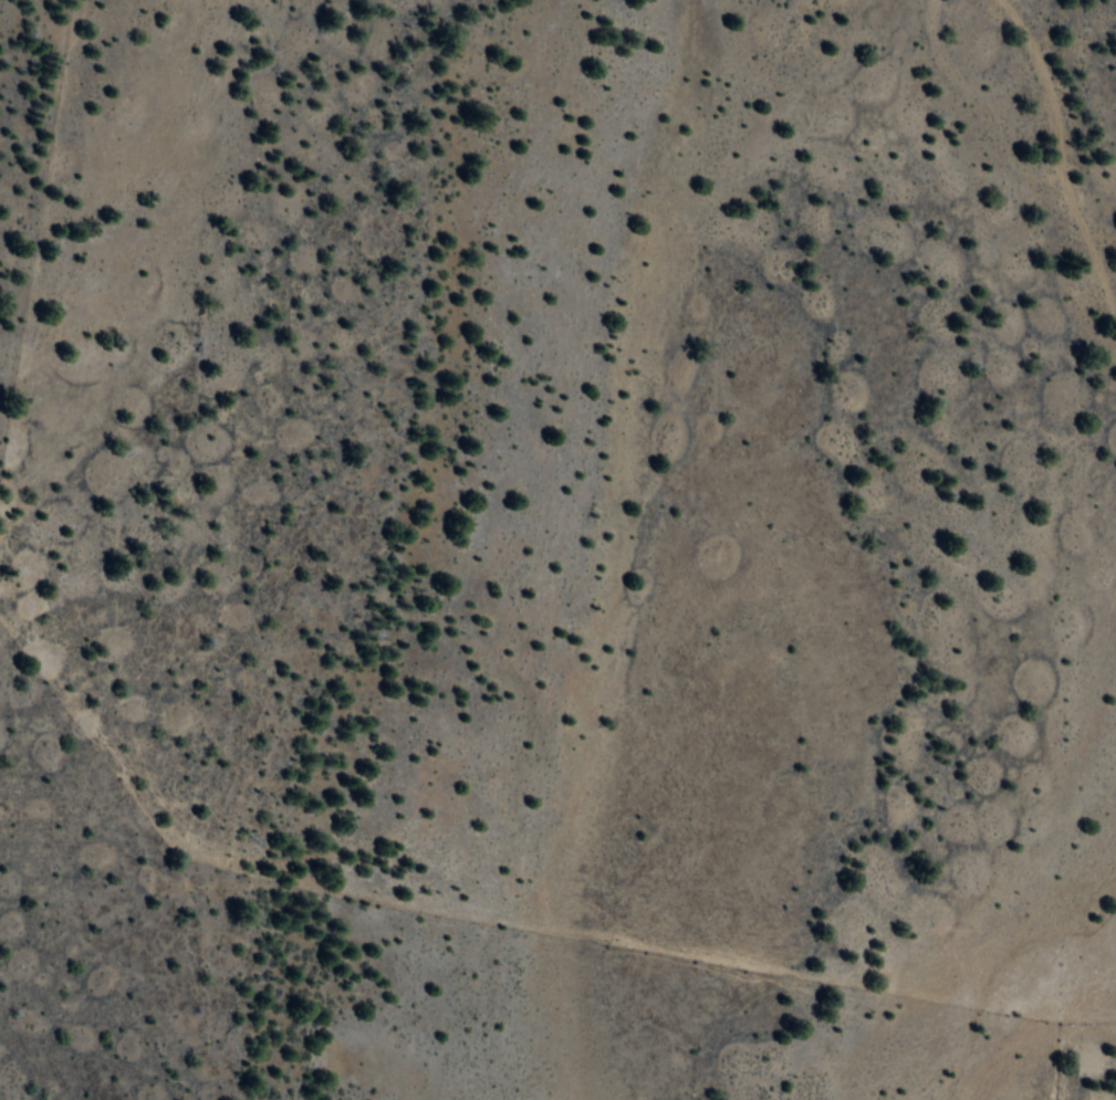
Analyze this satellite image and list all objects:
road: (1065, 149)

